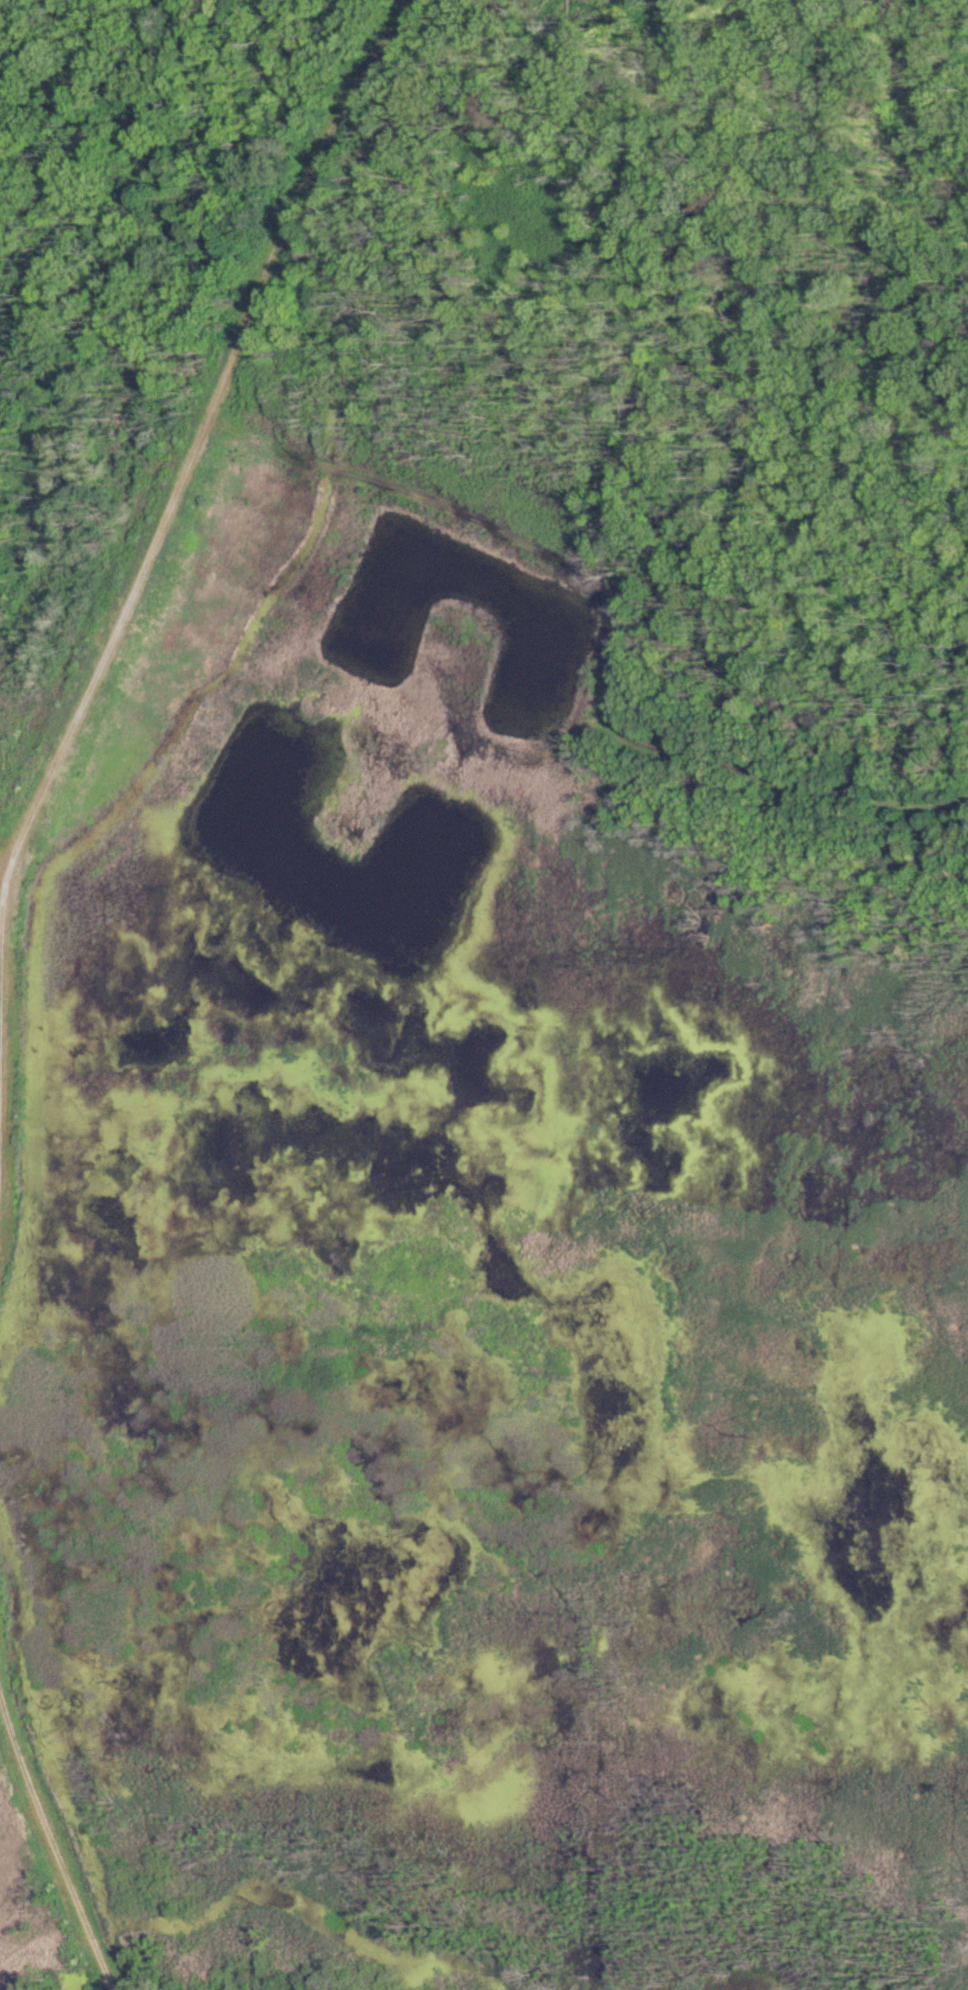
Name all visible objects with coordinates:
road: (125, 609)
road: (56, 1862)

